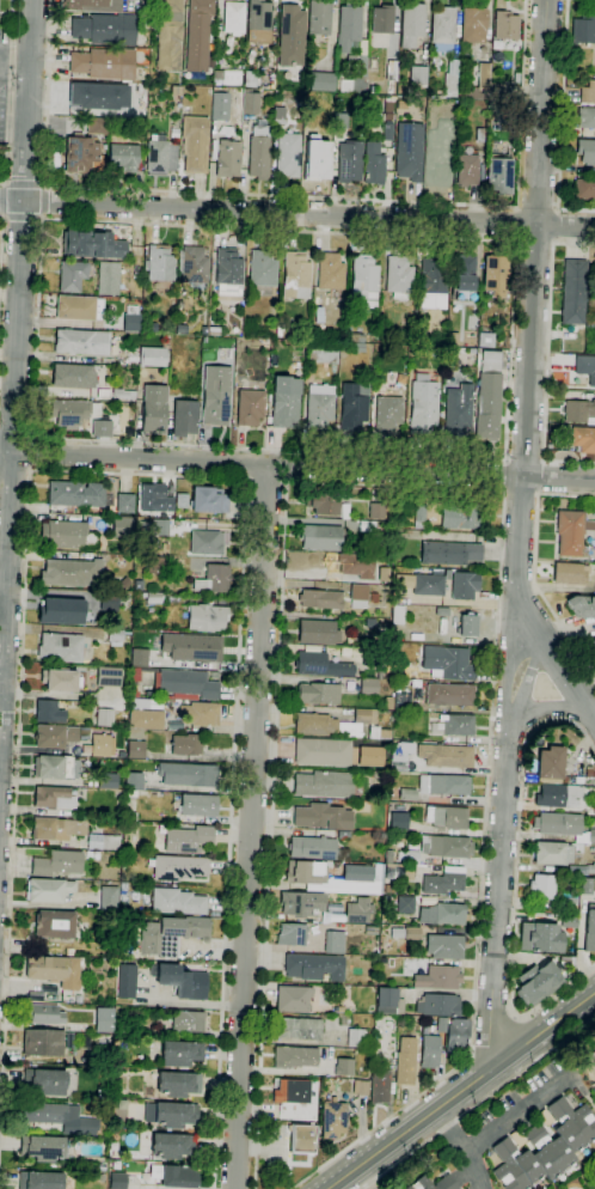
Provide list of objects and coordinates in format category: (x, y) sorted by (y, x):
building: (91, 5)
building: (170, 5)
building: (234, 17)
building: (319, 18)
building: (382, 19)
building: (258, 22)
building: (412, 24)
building: (473, 24)
building: (505, 25)
building: (349, 28)
building: (443, 28)
building: (105, 29)
building: (583, 30)
building: (198, 36)
building: (292, 36)
building: (168, 42)
building: (104, 63)
building: (391, 71)
building: (357, 73)
building: (217, 77)
building: (418, 77)
building: (232, 78)
building: (452, 78)
building: (250, 79)
building: (321, 81)
building: (489, 85)
building: (176, 91)
road: (8, 92)
building: (468, 93)
building: (588, 93)
building: (98, 96)
building: (312, 96)
building: (249, 103)
building: (220, 105)
building: (278, 115)
building: (308, 117)
building: (585, 117)
building: (448, 118)
building: (341, 121)
road: (562, 122)
building: (97, 126)
building: (388, 128)
building: (479, 135)
building: (195, 144)
building: (409, 151)
building: (258, 152)
building: (585, 152)
building: (80, 153)
building: (288, 154)
building: (160, 157)
building: (123, 158)
building: (227, 158)
building: (349, 161)
building: (374, 164)
building: (318, 165)
building: (467, 170)
building: (436, 172)
building: (498, 175)
road: (24, 182)
building: (584, 189)
road: (292, 197)
road: (2, 200)
road: (47, 202)
road: (536, 209)
road: (297, 214)
road: (23, 219)
road: (42, 219)
road: (515, 224)
road: (1, 243)
building: (86, 243)
road: (533, 245)
building: (159, 263)
building: (194, 264)
building: (262, 270)
building: (228, 272)
building: (330, 272)
building: (465, 273)
building: (73, 275)
building: (296, 275)
building: (495, 275)
building: (399, 276)
building: (108, 279)
building: (363, 282)
building: (433, 283)
building: (594, 286)
building: (573, 292)
building: (75, 307)
road: (532, 312)
building: (131, 323)
building: (589, 323)
building: (148, 327)
building: (419, 328)
building: (180, 329)
building: (203, 330)
building: (213, 331)
building: (405, 334)
building: (356, 337)
building: (452, 339)
building: (594, 340)
building: (81, 342)
building: (238, 342)
road: (17, 346)
building: (357, 347)
building: (380, 350)
building: (321, 352)
road: (547, 355)
building: (152, 356)
building: (585, 367)
building: (73, 376)
building: (452, 382)
building: (103, 394)
building: (123, 394)
building: (216, 395)
building: (487, 395)
building: (284, 401)
building: (352, 406)
building: (250, 407)
building: (319, 407)
building: (423, 407)
building: (154, 409)
building: (387, 410)
building: (458, 410)
building: (578, 410)
building: (72, 413)
building: (184, 417)
road: (17, 425)
building: (102, 428)
building: (582, 439)
road: (35, 452)
road: (525, 459)
road: (296, 467)
road: (16, 470)
road: (151, 474)
road: (505, 475)
road: (542, 476)
road: (436, 488)
road: (521, 493)
building: (76, 494)
building: (155, 499)
building: (182, 500)
building: (208, 500)
building: (124, 502)
building: (324, 504)
building: (344, 511)
building: (376, 511)
building: (419, 517)
building: (459, 517)
building: (121, 526)
building: (160, 528)
building: (571, 531)
building: (67, 535)
building: (321, 537)
building: (206, 542)
building: (164, 547)
building: (594, 549)
building: (449, 553)
building: (157, 565)
building: (356, 566)
road: (533, 567)
building: (70, 573)
building: (570, 573)
building: (382, 574)
building: (213, 579)
building: (421, 584)
building: (594, 584)
building: (464, 585)
building: (358, 596)
building: (152, 597)
building: (320, 598)
building: (374, 598)
building: (582, 605)
building: (61, 610)
building: (442, 611)
building: (206, 618)
building: (369, 622)
building: (467, 624)
building: (318, 633)
building: (115, 636)
building: (593, 642)
building: (61, 647)
building: (191, 647)
building: (405, 653)
building: (369, 657)
building: (140, 658)
building: (448, 663)
road: (560, 663)
building: (320, 665)
building: (135, 675)
building: (108, 676)
building: (60, 679)
road: (507, 681)
building: (135, 683)
building: (188, 683)
building: (369, 687)
road: (525, 689)
building: (149, 693)
building: (319, 694)
building: (449, 694)
building: (140, 703)
road: (546, 711)
building: (48, 712)
building: (201, 713)
building: (104, 717)
building: (146, 719)
building: (119, 724)
building: (333, 724)
building: (454, 725)
building: (379, 732)
building: (54, 736)
building: (100, 745)
building: (185, 745)
building: (135, 749)
building: (323, 751)
building: (446, 755)
building: (373, 756)
building: (400, 756)
building: (550, 764)
building: (56, 768)
building: (589, 772)
building: (188, 775)
building: (565, 780)
building: (108, 781)
building: (134, 781)
building: (325, 783)
building: (444, 785)
building: (129, 793)
building: (407, 794)
building: (558, 795)
building: (53, 798)
building: (198, 805)
building: (323, 816)
building: (447, 817)
building: (398, 822)
road: (251, 827)
building: (563, 827)
building: (56, 828)
building: (188, 839)
building: (103, 842)
building: (446, 846)
building: (312, 848)
building: (552, 853)
building: (92, 855)
building: (404, 858)
building: (57, 864)
building: (178, 868)
building: (590, 868)
building: (399, 872)
building: (357, 873)
building: (306, 874)
road: (516, 882)
building: (442, 883)
building: (542, 886)
building: (47, 890)
building: (109, 898)
building: (569, 901)
building: (177, 902)
building: (301, 904)
building: (405, 904)
road: (497, 906)
building: (358, 910)
building: (443, 914)
building: (54, 923)
building: (189, 926)
building: (589, 927)
building: (397, 933)
building: (412, 933)
building: (292, 934)
building: (538, 937)
building: (158, 941)
building: (335, 943)
building: (444, 946)
building: (313, 967)
building: (54, 970)
building: (438, 977)
building: (127, 981)
building: (182, 981)
building: (536, 982)
building: (35, 995)
building: (292, 999)
building: (78, 1000)
building: (389, 1001)
building: (438, 1005)
building: (47, 1014)
road: (514, 1018)
building: (103, 1019)
building: (345, 1019)
building: (188, 1022)
building: (417, 1024)
building: (441, 1025)
building: (297, 1029)
building: (456, 1033)
road: (493, 1035)
building: (355, 1038)
building: (69, 1039)
building: (43, 1043)
building: (430, 1051)
road: (472, 1051)
building: (591, 1051)
building: (179, 1054)
building: (295, 1057)
building: (405, 1061)
building: (343, 1067)
building: (45, 1081)
building: (178, 1084)
building: (380, 1086)
building: (362, 1089)
building: (292, 1091)
road: (460, 1091)
road: (479, 1103)
building: (47, 1112)
building: (171, 1114)
road: (515, 1116)
building: (545, 1117)
building: (332, 1118)
building: (80, 1126)
building: (517, 1138)
building: (301, 1139)
building: (166, 1145)
road: (462, 1146)
building: (545, 1147)
building: (42, 1148)
building: (174, 1176)
building: (39, 1179)
building: (117, 1181)
building: (434, 1183)

